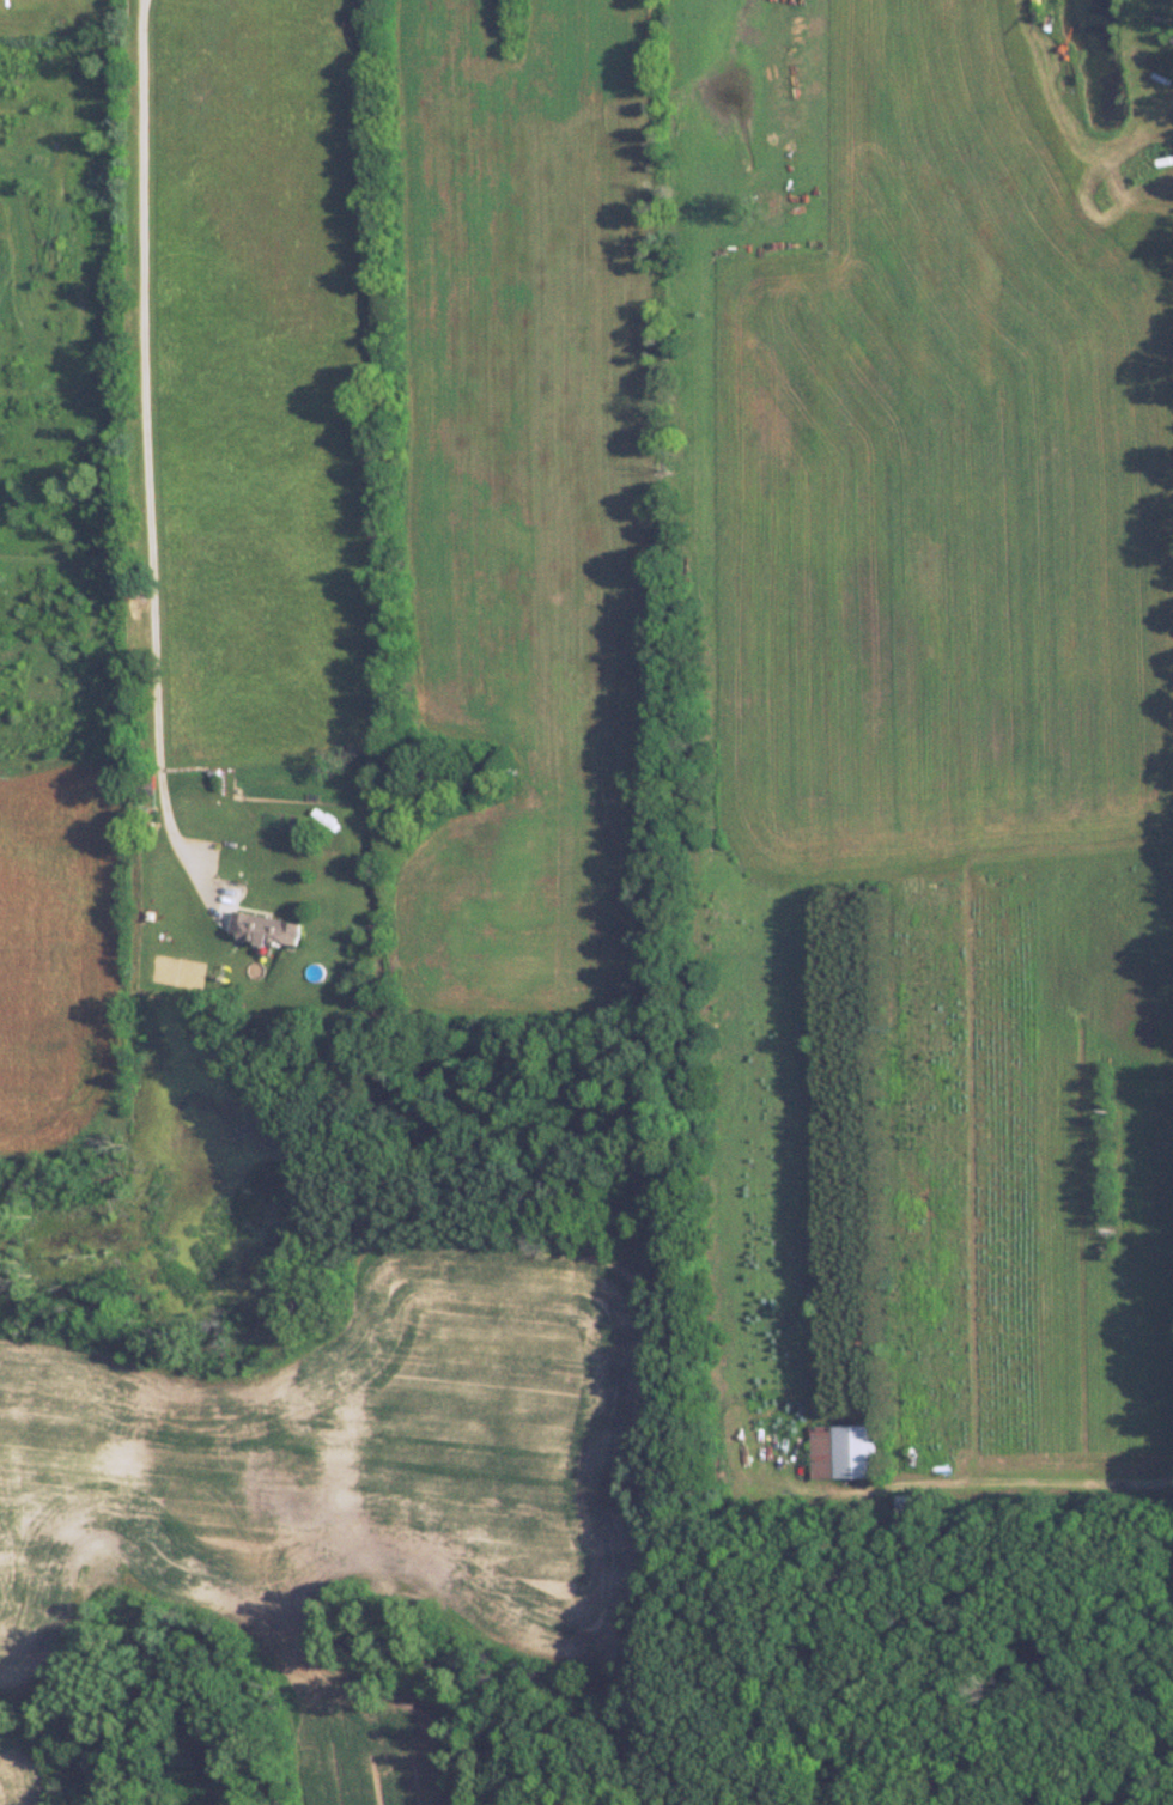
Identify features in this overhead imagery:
road: (145, 455)
building: (265, 929)
road: (1033, 1488)

